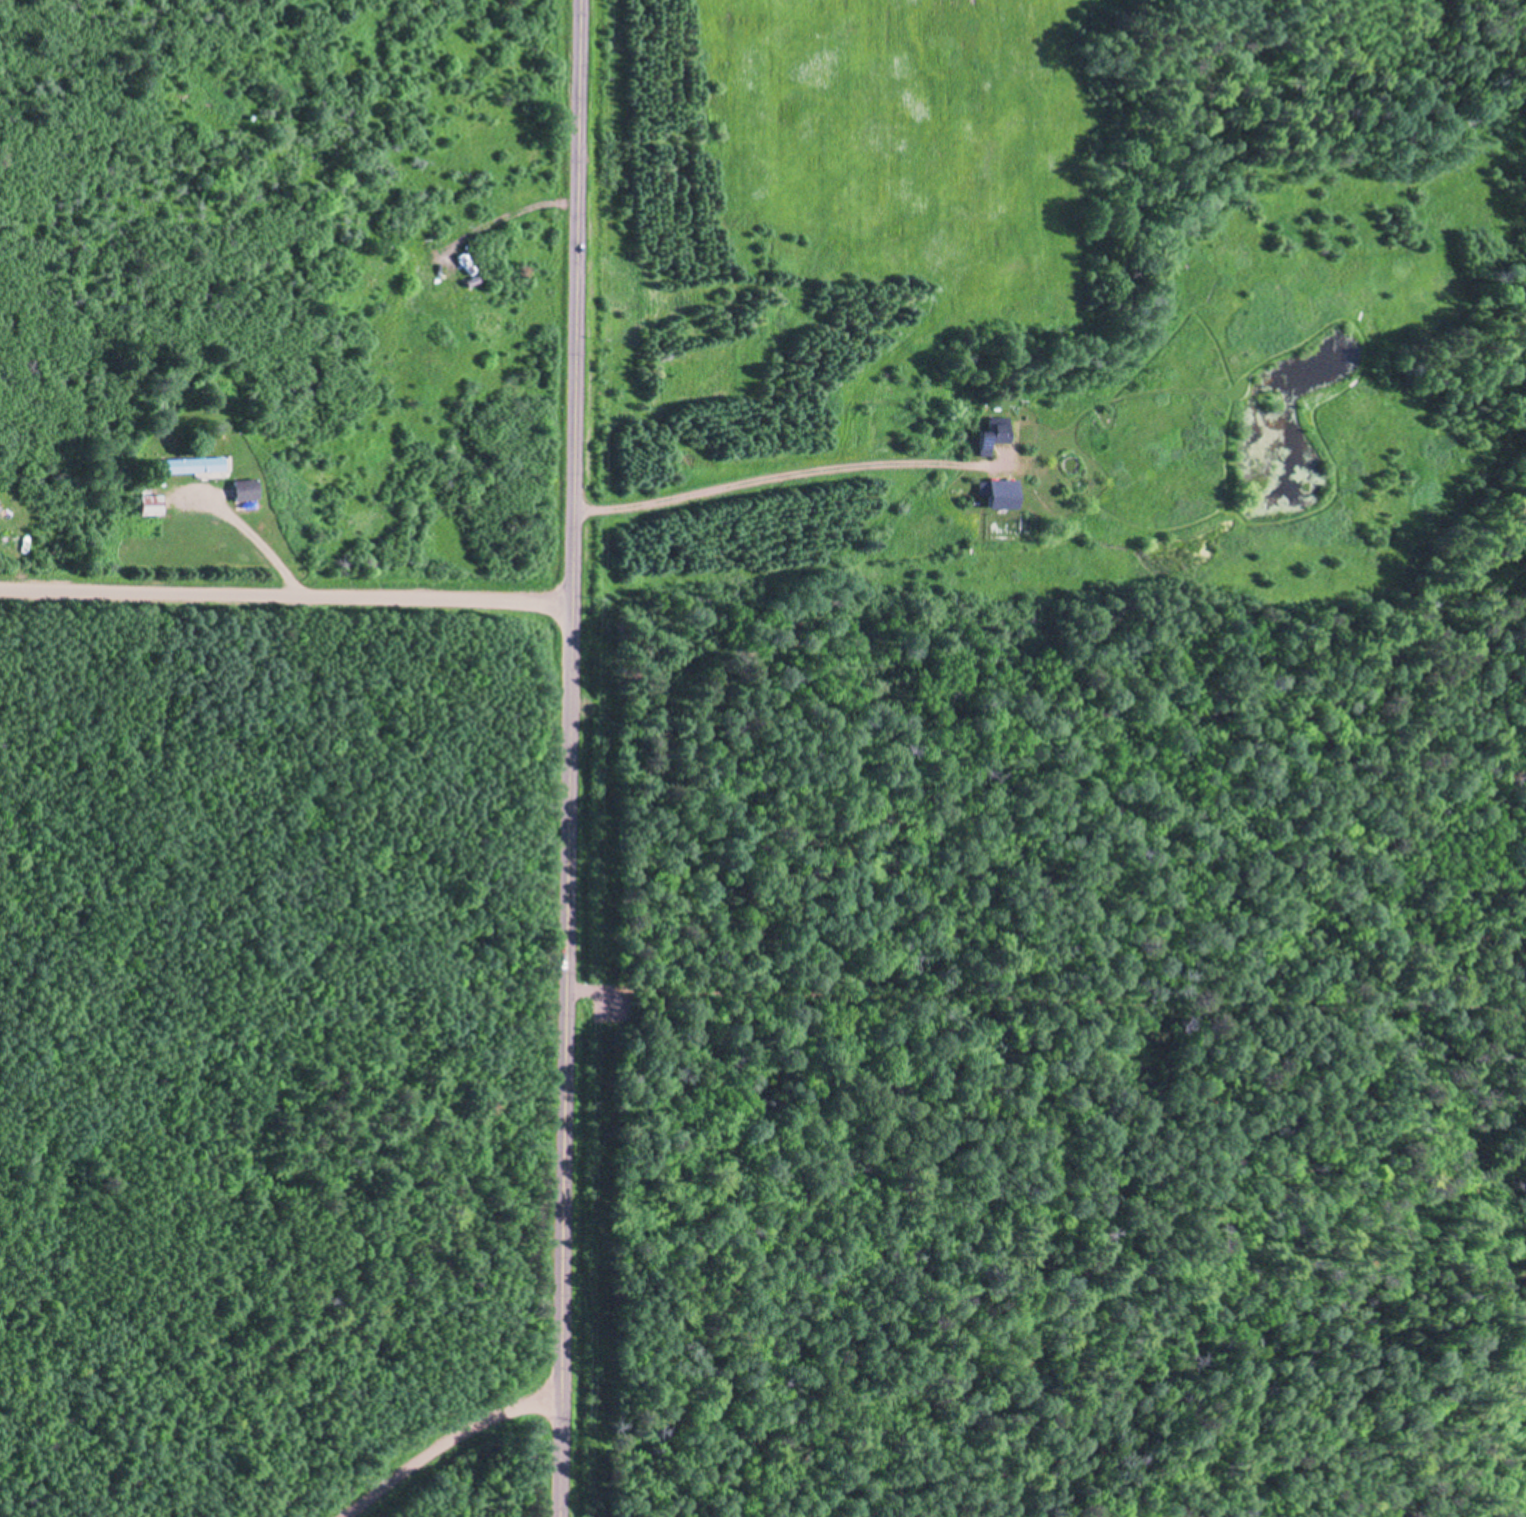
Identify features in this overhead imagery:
crop: (841, 171)
building: (207, 403)
building: (992, 433)
building: (190, 463)
road: (787, 476)
building: (245, 488)
building: (997, 491)
building: (151, 503)
road: (260, 547)
road: (285, 597)
road: (568, 758)
road: (531, 1405)
road: (421, 1460)
park: (1033, 1494)

